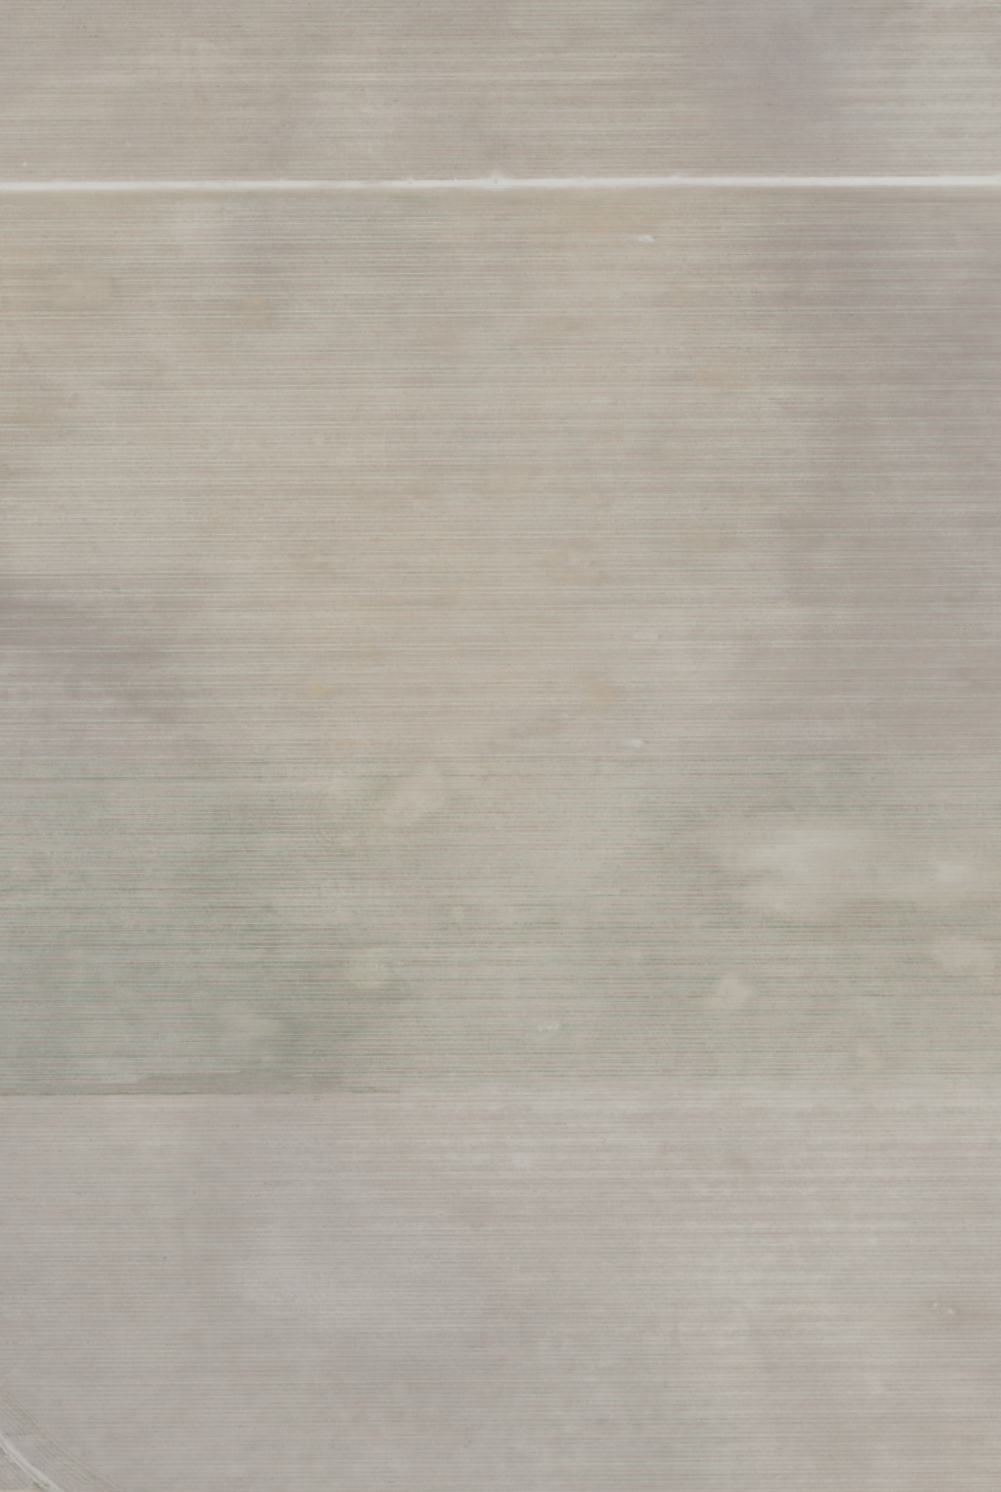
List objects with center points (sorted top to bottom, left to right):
road: (500, 180)

